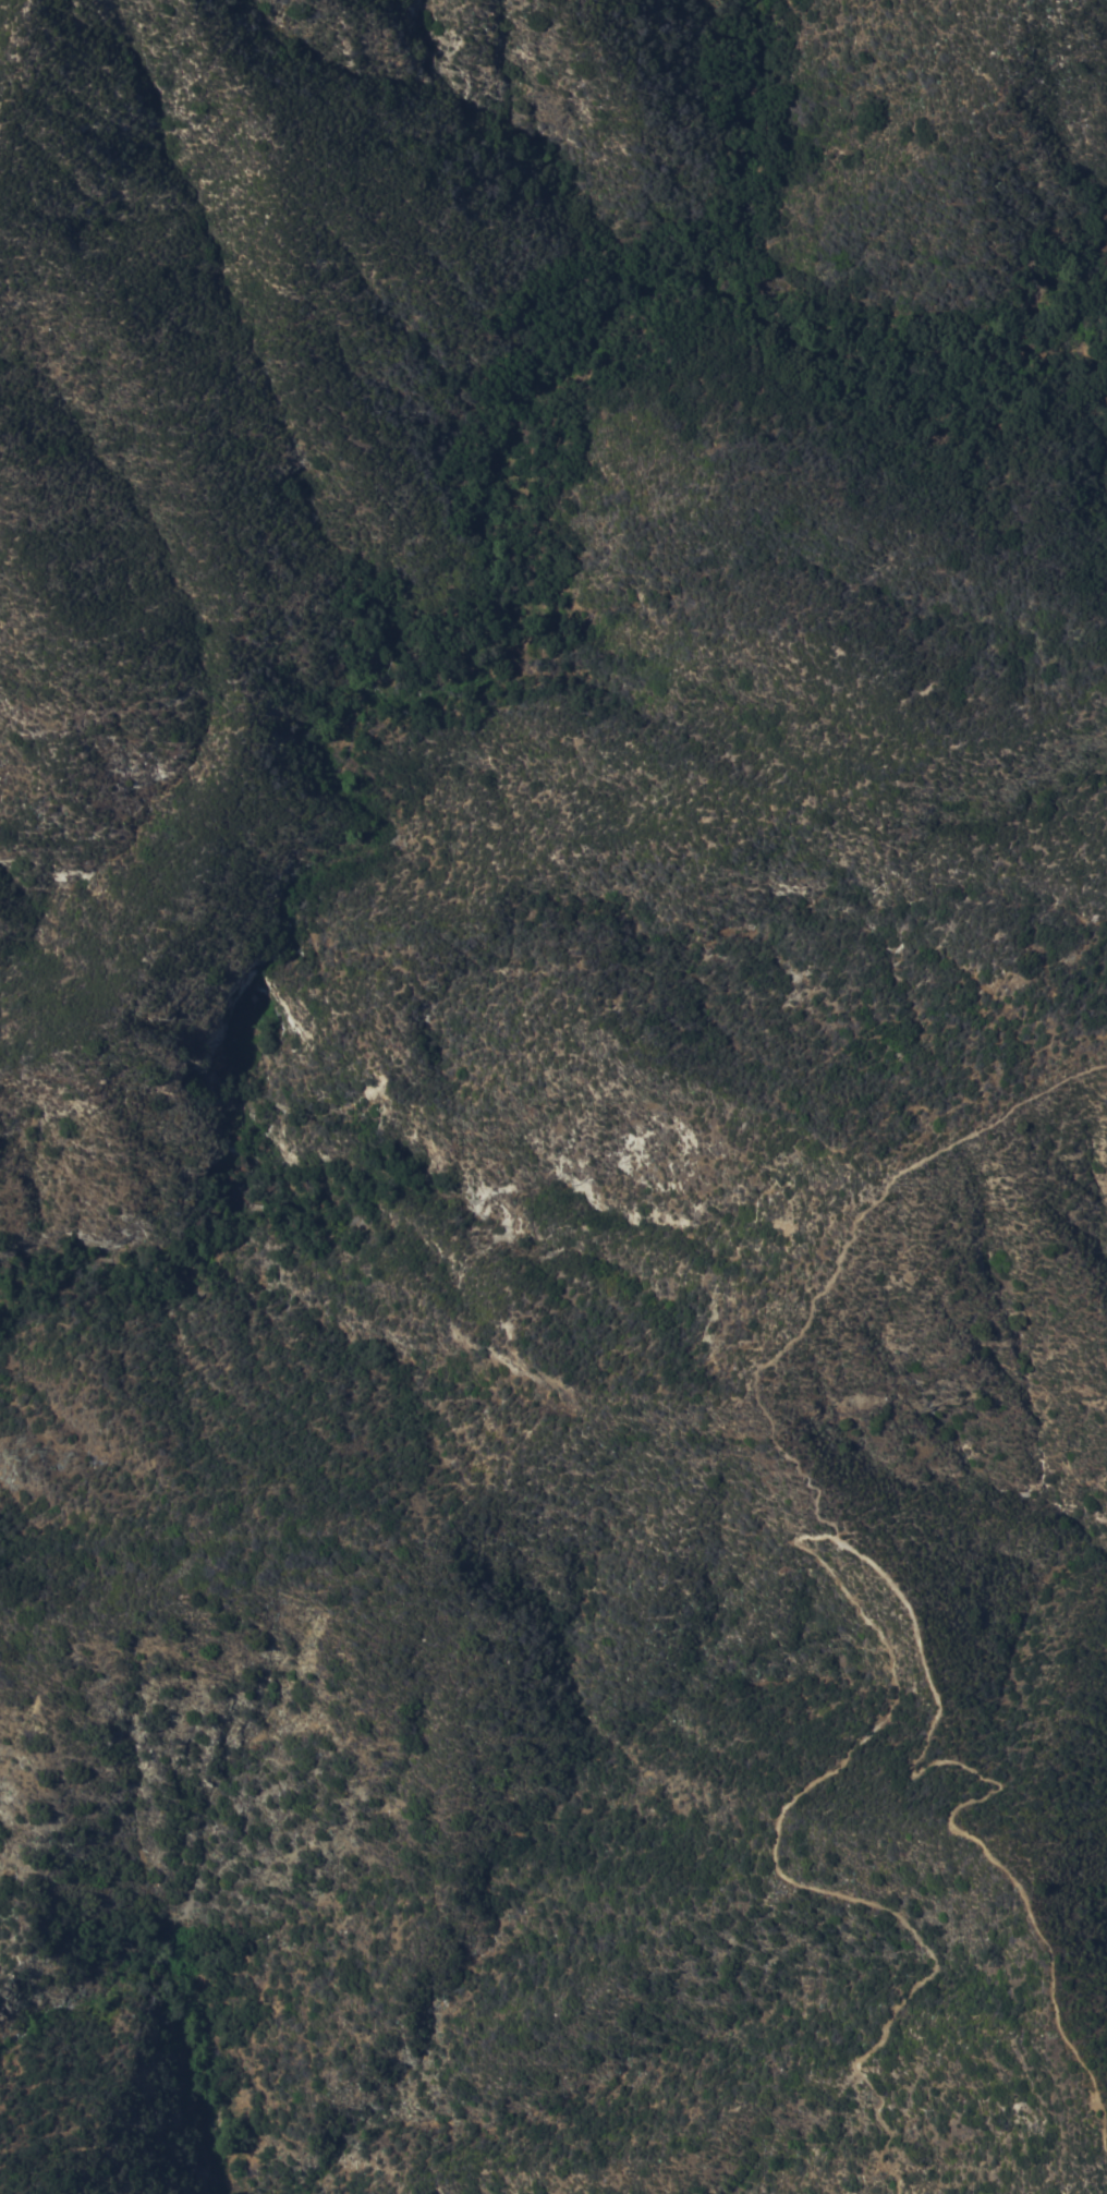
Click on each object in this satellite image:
road: (815, 1553)

